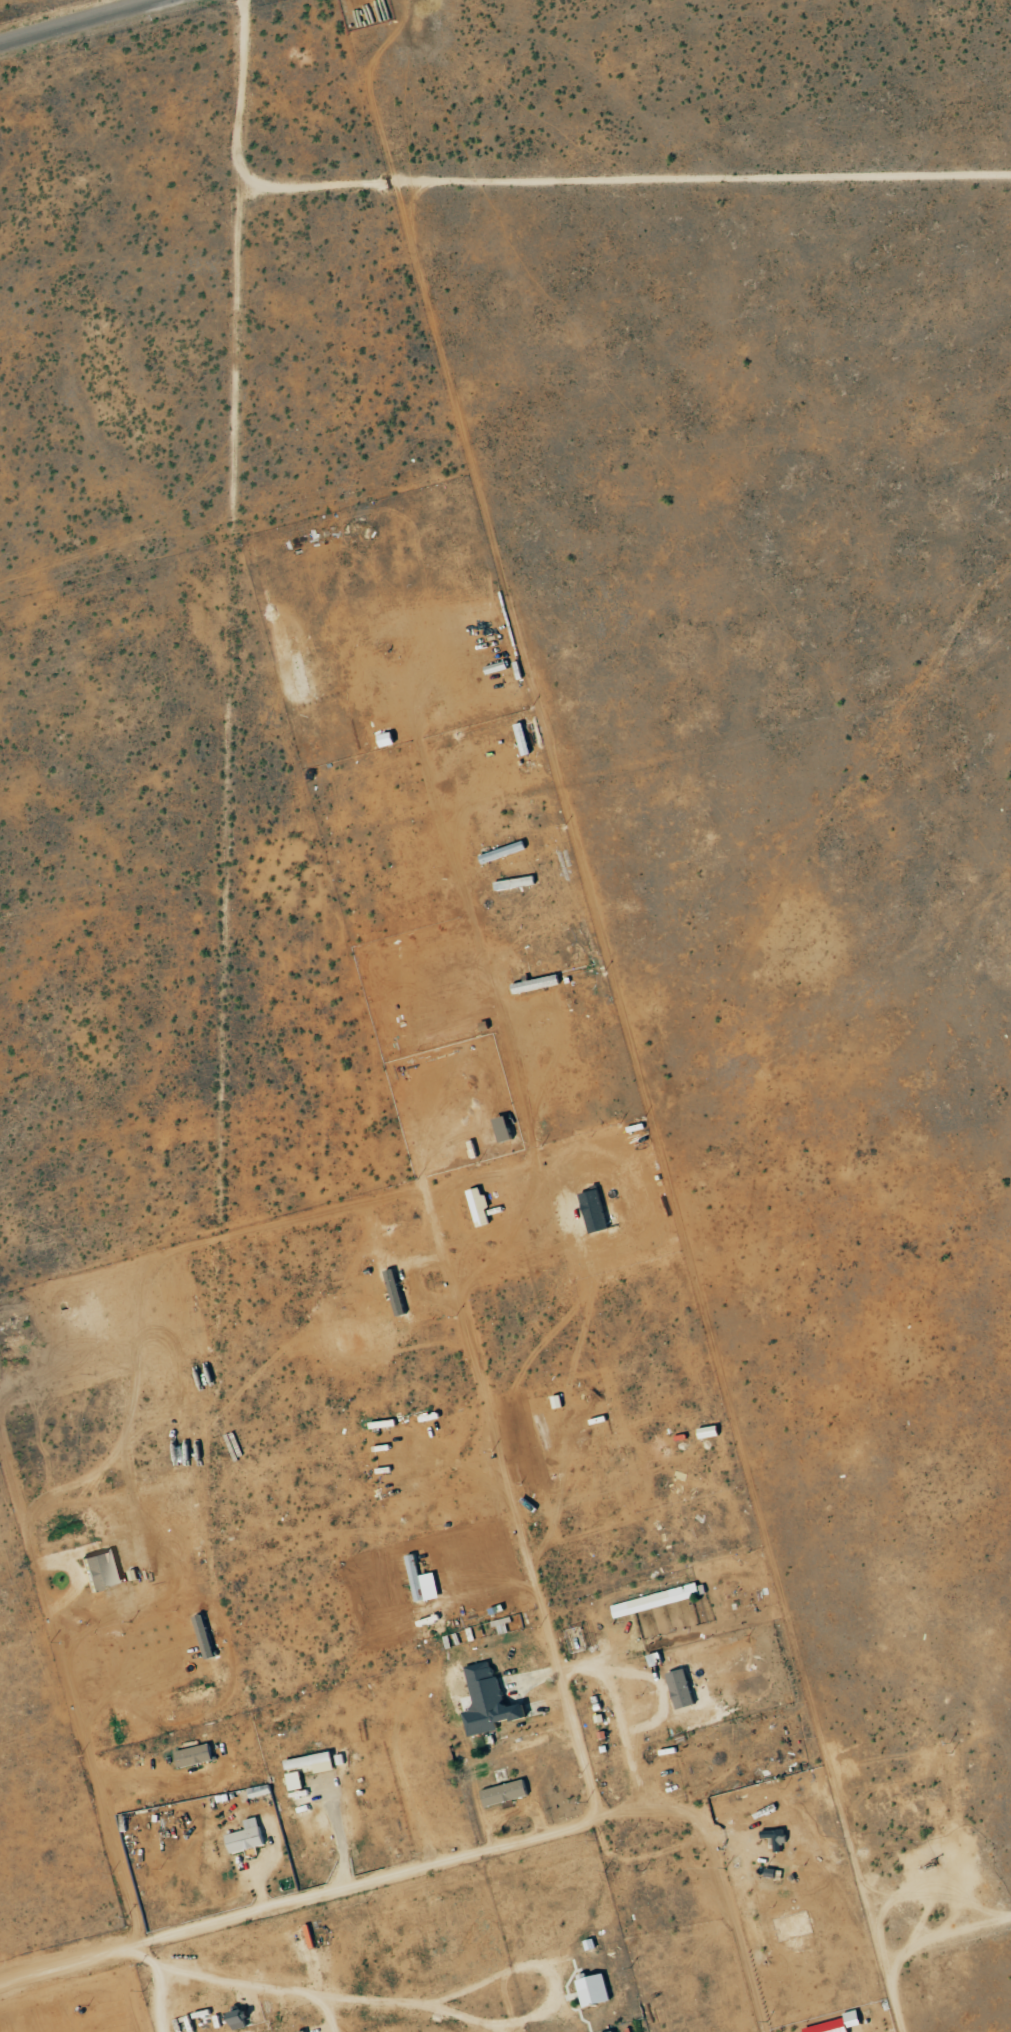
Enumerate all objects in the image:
road: (83, 23)
building: (389, 739)
building: (482, 1206)
building: (597, 1210)
building: (97, 1571)
building: (658, 1600)
building: (657, 1659)
road: (559, 1678)
building: (490, 1700)
building: (197, 1755)
building: (310, 1767)
building: (507, 1792)
building: (772, 1835)
building: (249, 1836)
road: (328, 1893)
building: (596, 1990)
building: (308, 2031)
building: (623, 2031)

